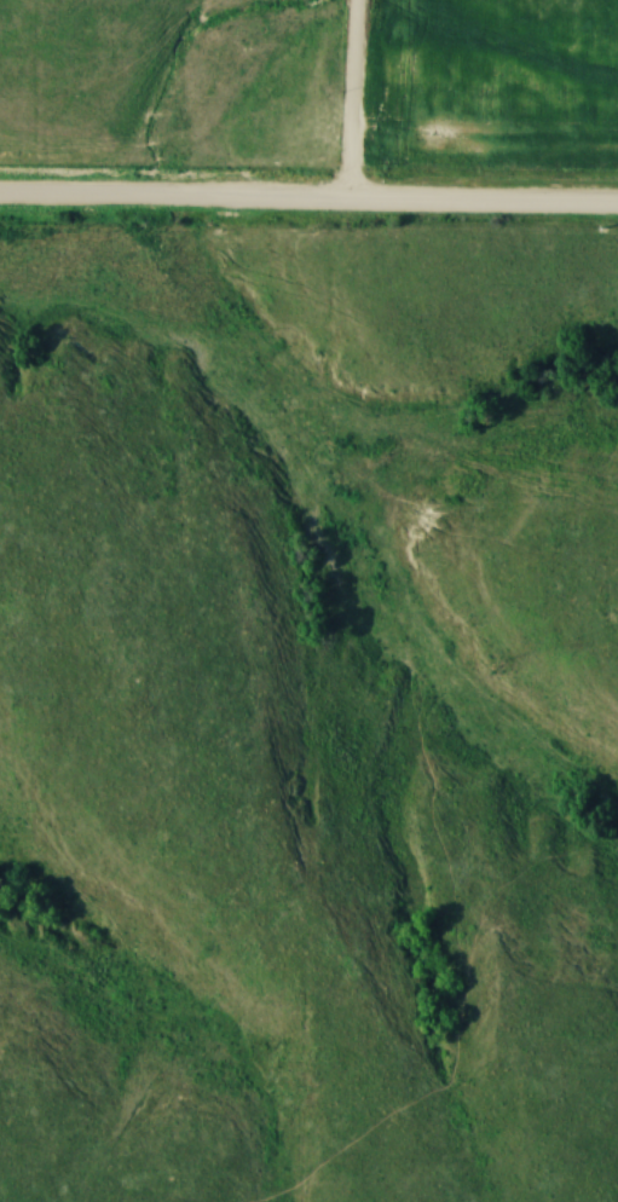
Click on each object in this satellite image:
road: (352, 104)
road: (308, 207)

